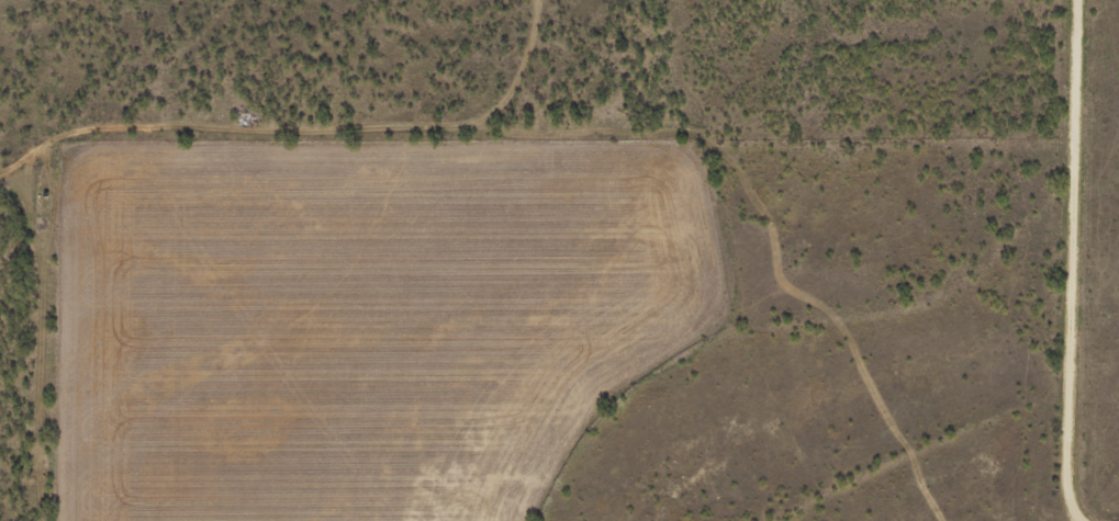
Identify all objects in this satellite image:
road: (1072, 261)

